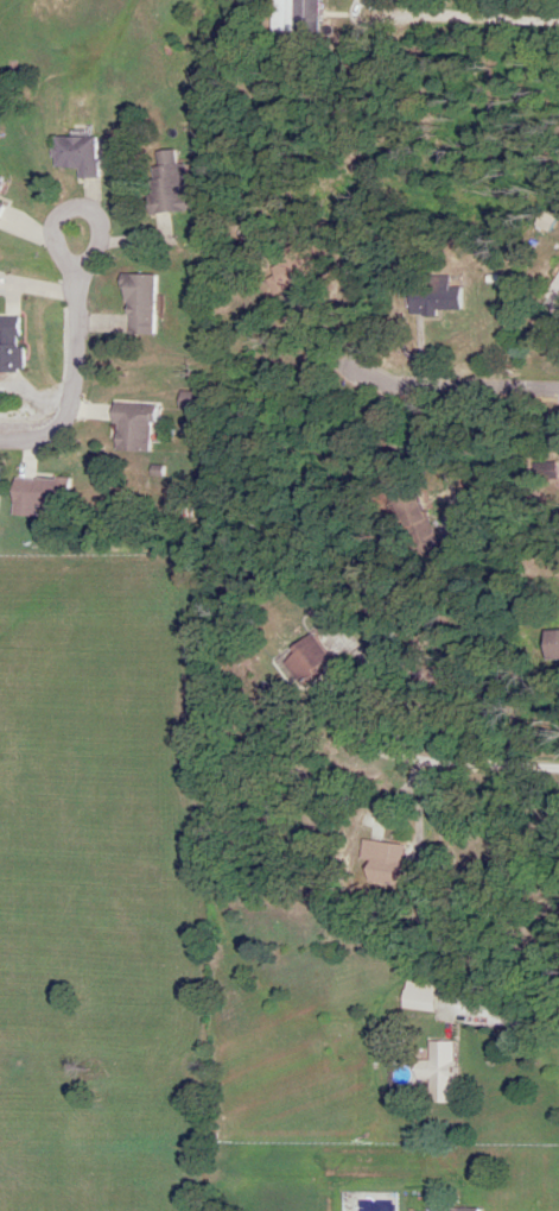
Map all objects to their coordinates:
building: (370, 1)
building: (316, 17)
road: (466, 23)
building: (81, 156)
building: (2, 181)
building: (172, 189)
building: (2, 212)
building: (557, 295)
building: (445, 299)
building: (140, 304)
building: (13, 343)
road: (65, 360)
road: (463, 389)
building: (136, 425)
building: (43, 494)
building: (553, 644)
building: (312, 660)
road: (424, 758)
building: (387, 851)
building: (404, 875)
building: (421, 996)
road: (509, 1018)
building: (443, 1072)
road: (386, 1146)
building: (459, 1209)

